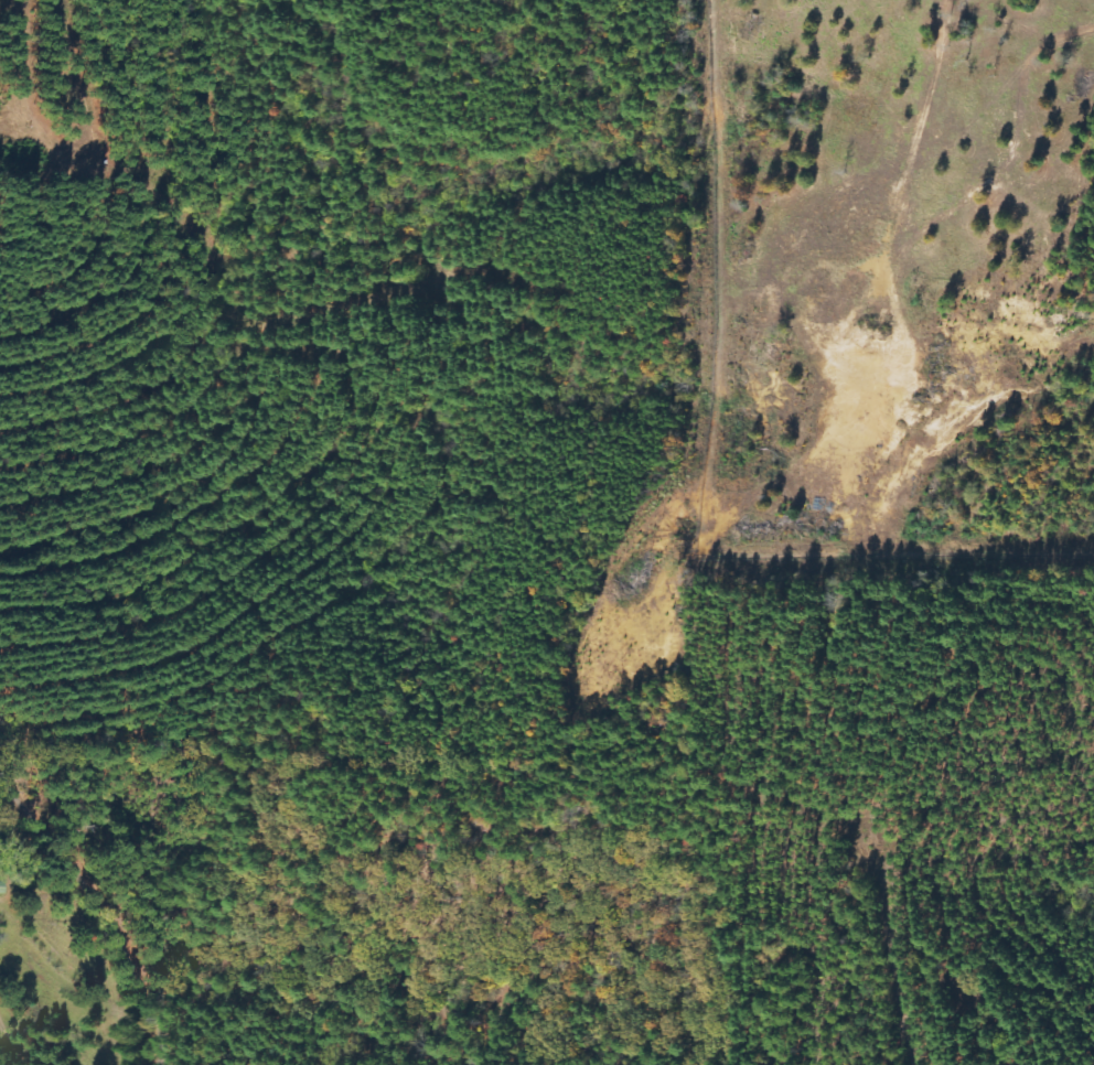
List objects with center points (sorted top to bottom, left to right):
road: (105, 907)

